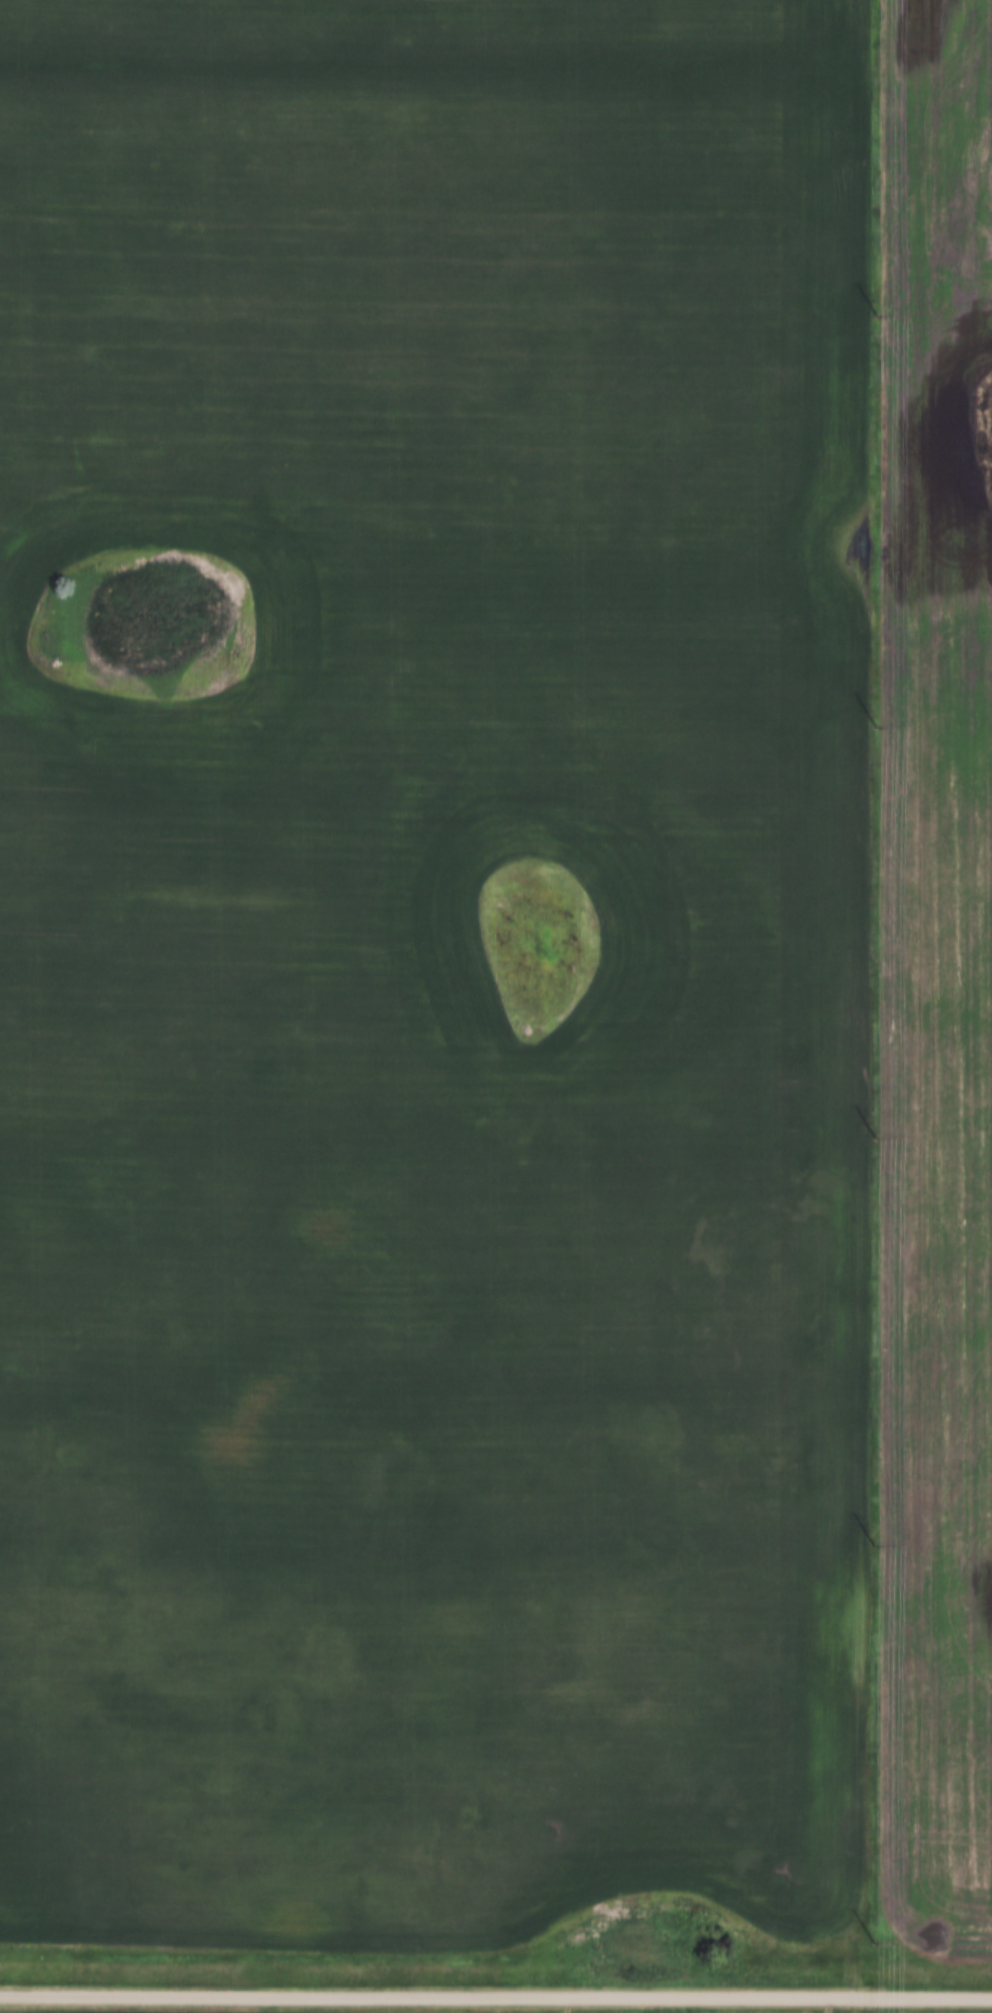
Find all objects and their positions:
road: (496, 1994)

